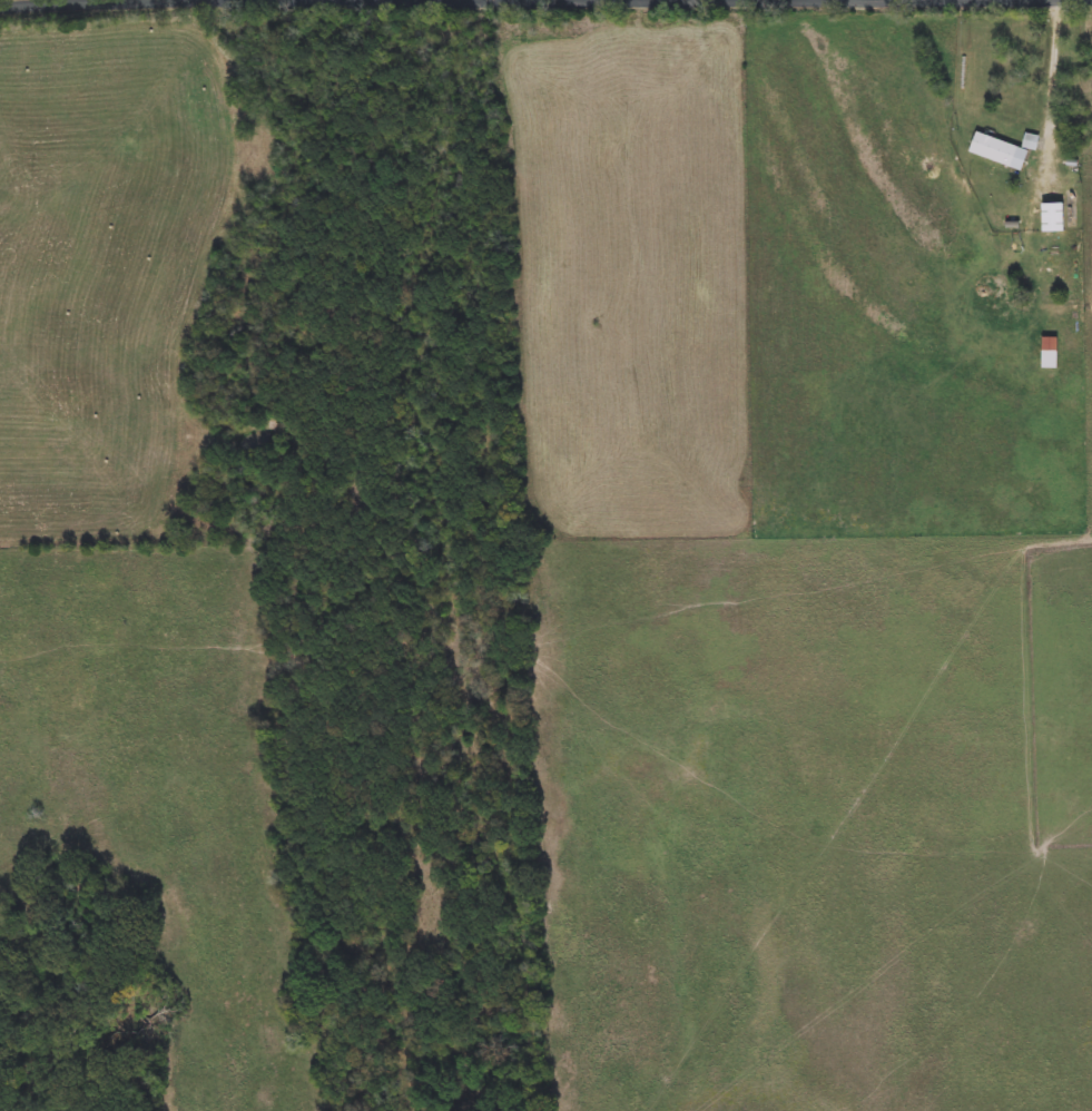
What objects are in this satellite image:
road: (370, 0)
road: (53, 3)
road: (1051, 89)
building: (1004, 150)
building: (1054, 218)
building: (1051, 352)

